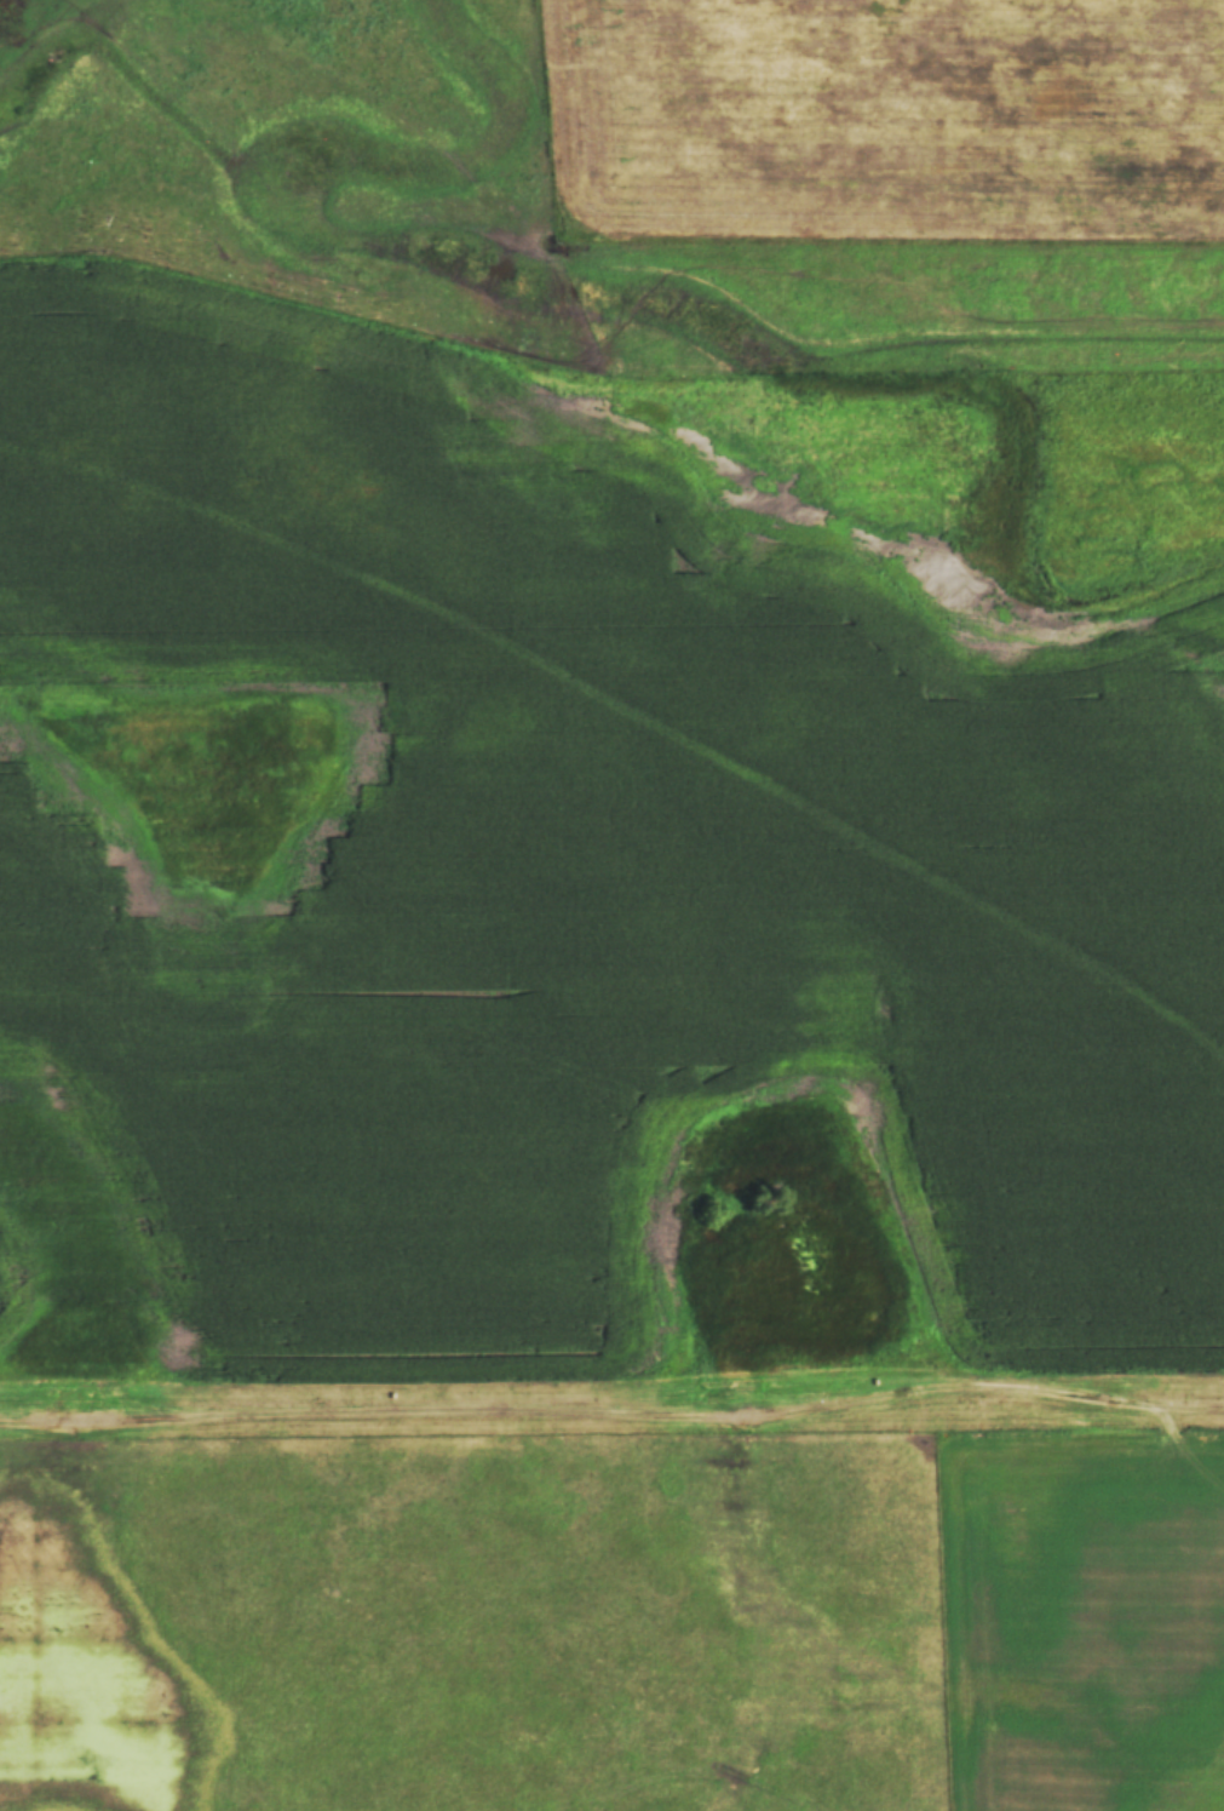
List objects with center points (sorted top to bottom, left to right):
road: (611, 1383)

